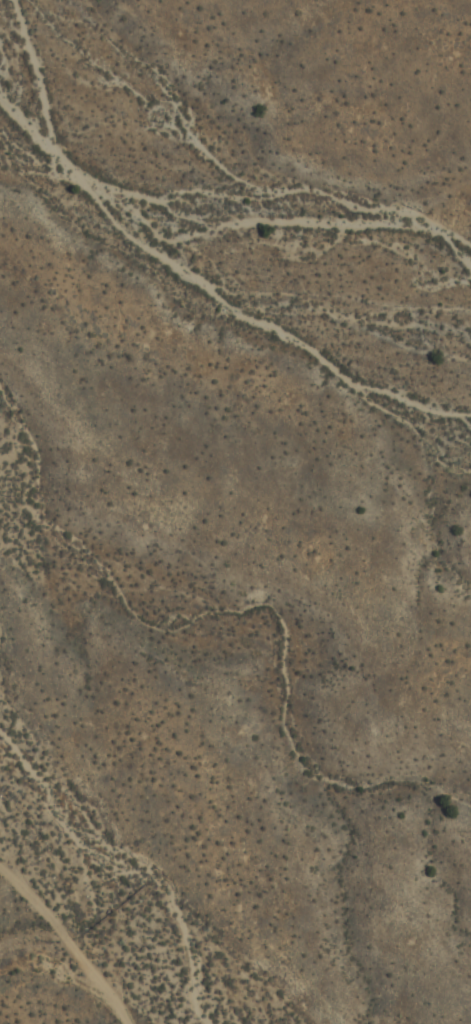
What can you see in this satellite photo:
road: (68, 951)

